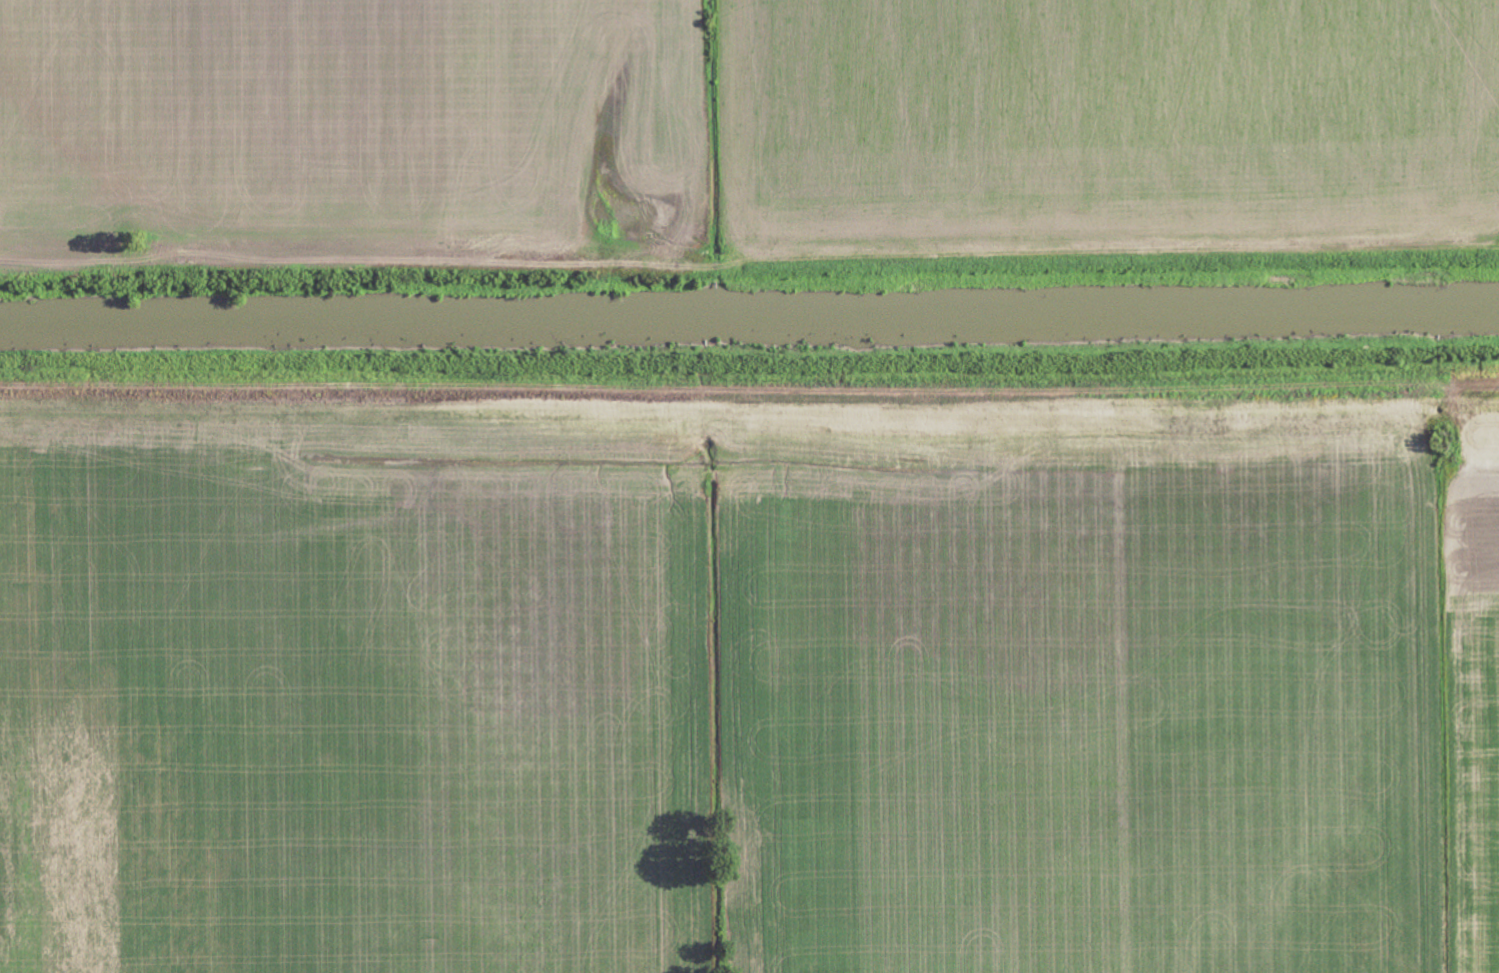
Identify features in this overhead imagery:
road: (749, 265)
river: (749, 320)

